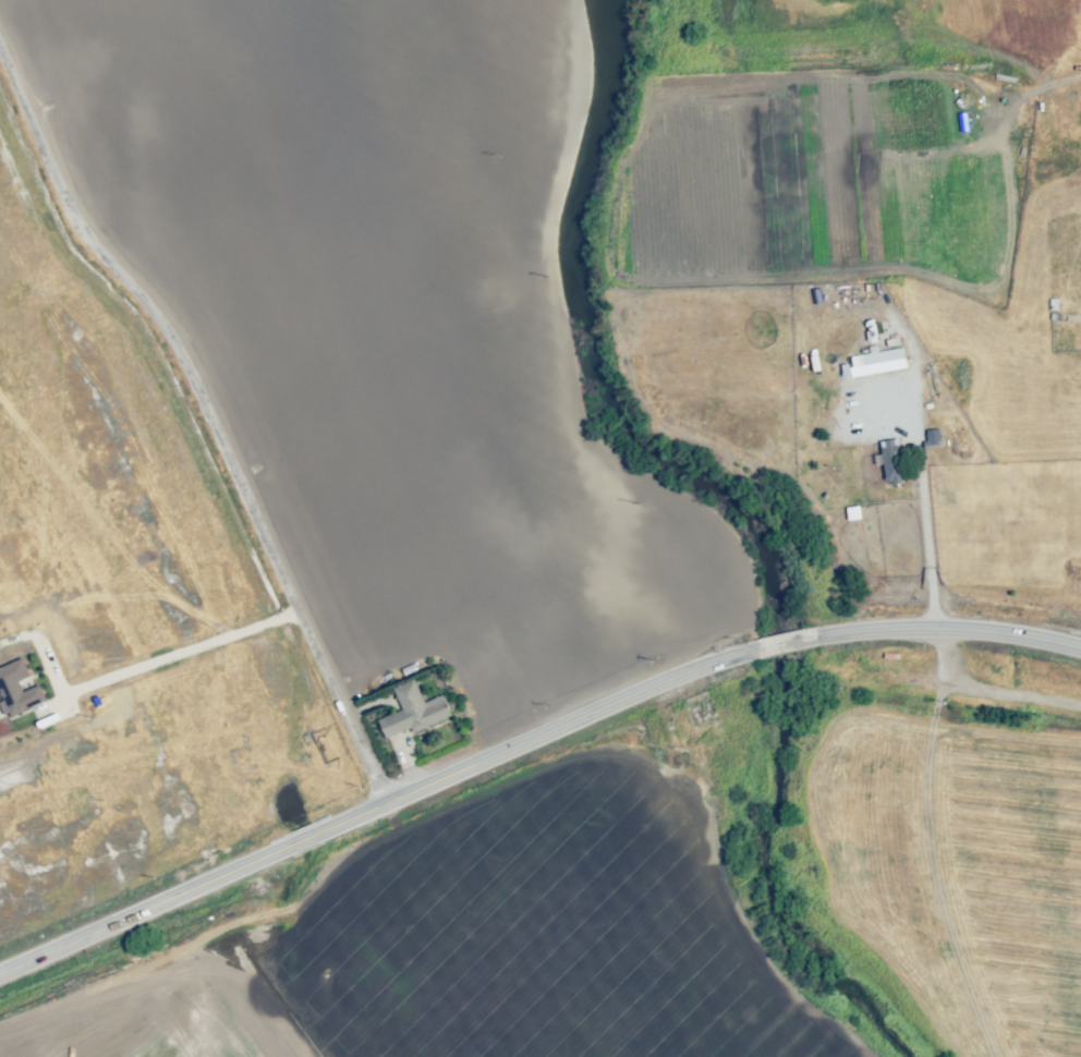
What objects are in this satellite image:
crop: (561, 313)
crop: (375, 323)
building: (878, 355)
road: (205, 427)
building: (932, 439)
building: (894, 462)
building: (852, 512)
road: (922, 537)
road: (184, 651)
building: (16, 689)
building: (411, 710)
road: (526, 749)
crop: (956, 837)

